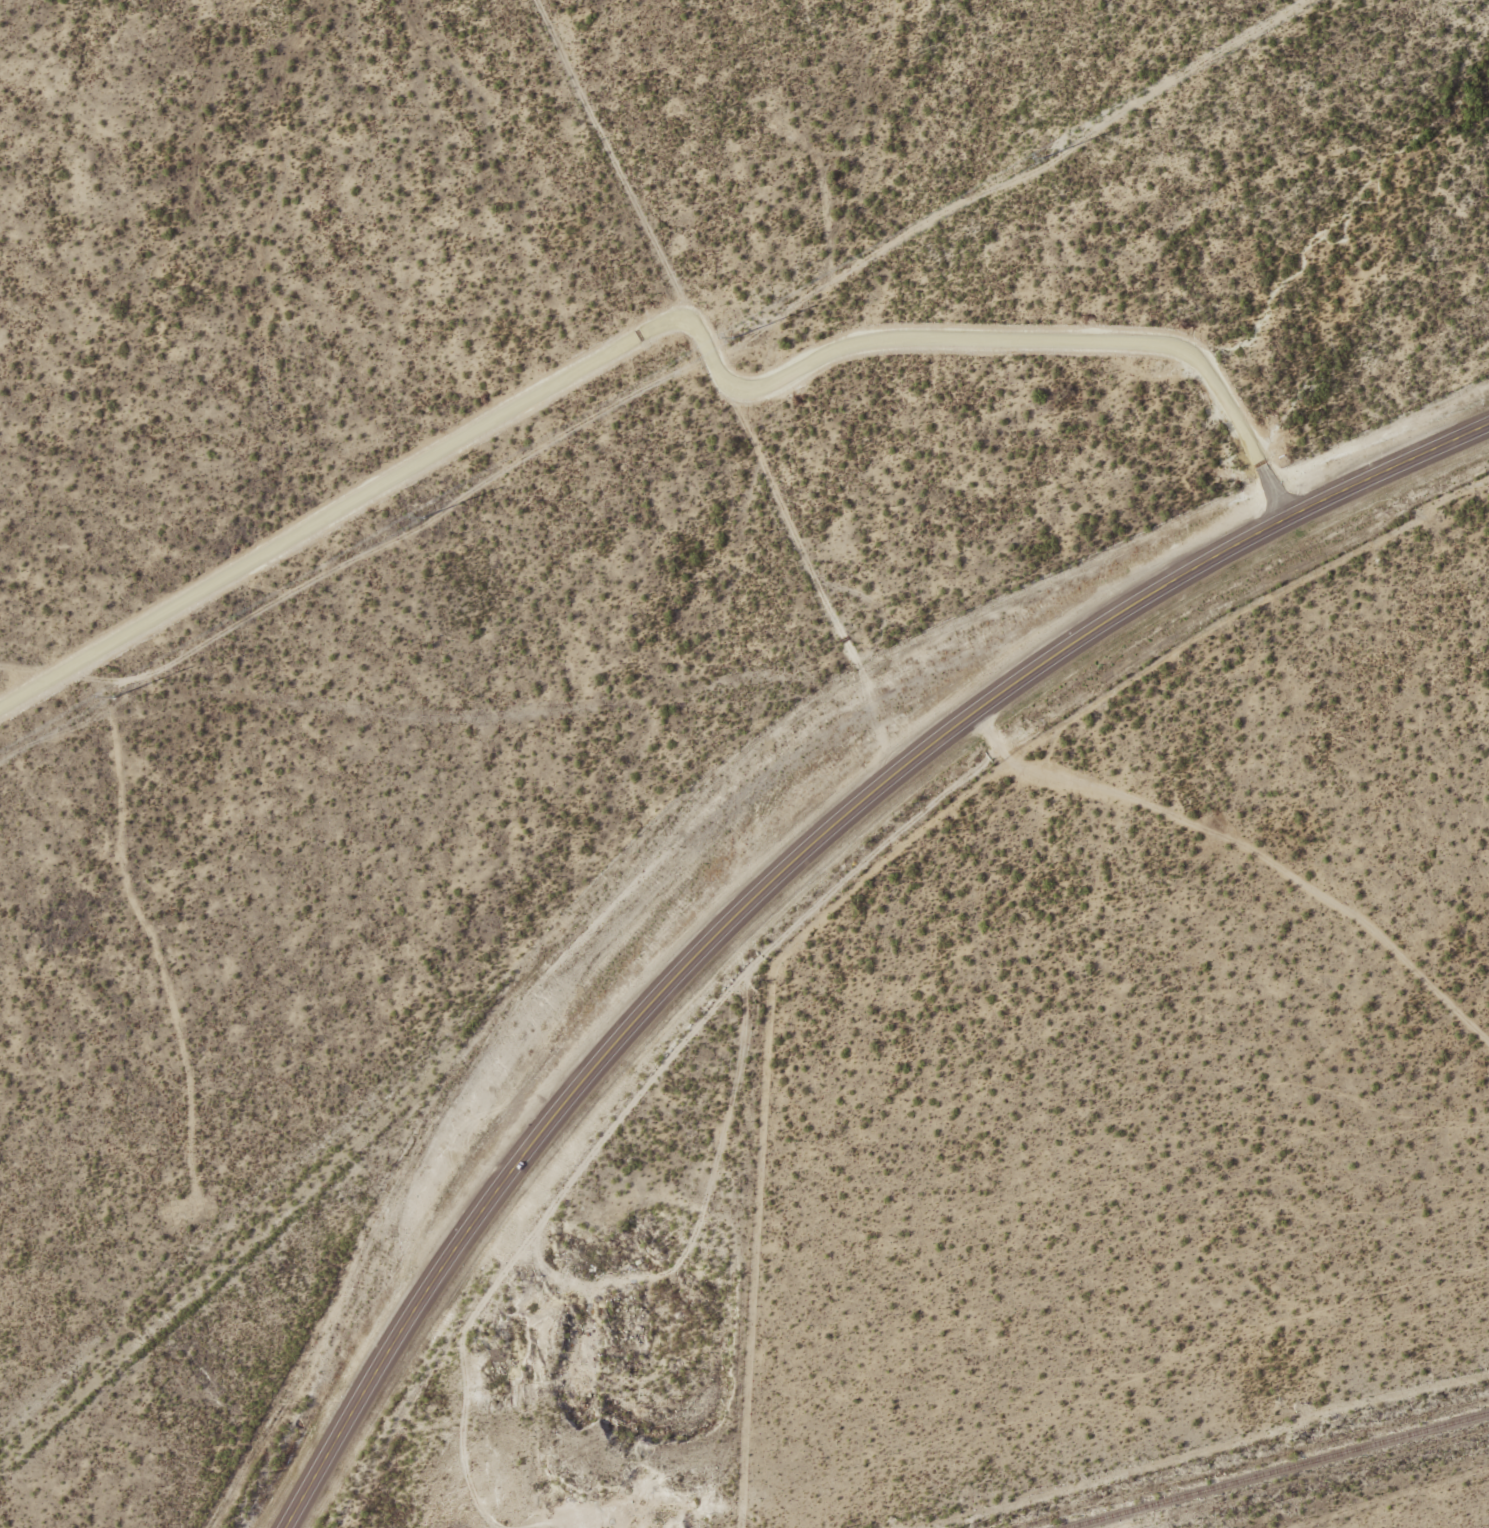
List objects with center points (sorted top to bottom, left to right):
power tower: (1041, 158)
road: (668, 325)
power tower: (732, 337)
road: (724, 380)
power tower: (423, 518)
power tower: (112, 696)
road: (444, 717)
road: (795, 869)
railway: (1275, 1470)
road: (1380, 1499)

